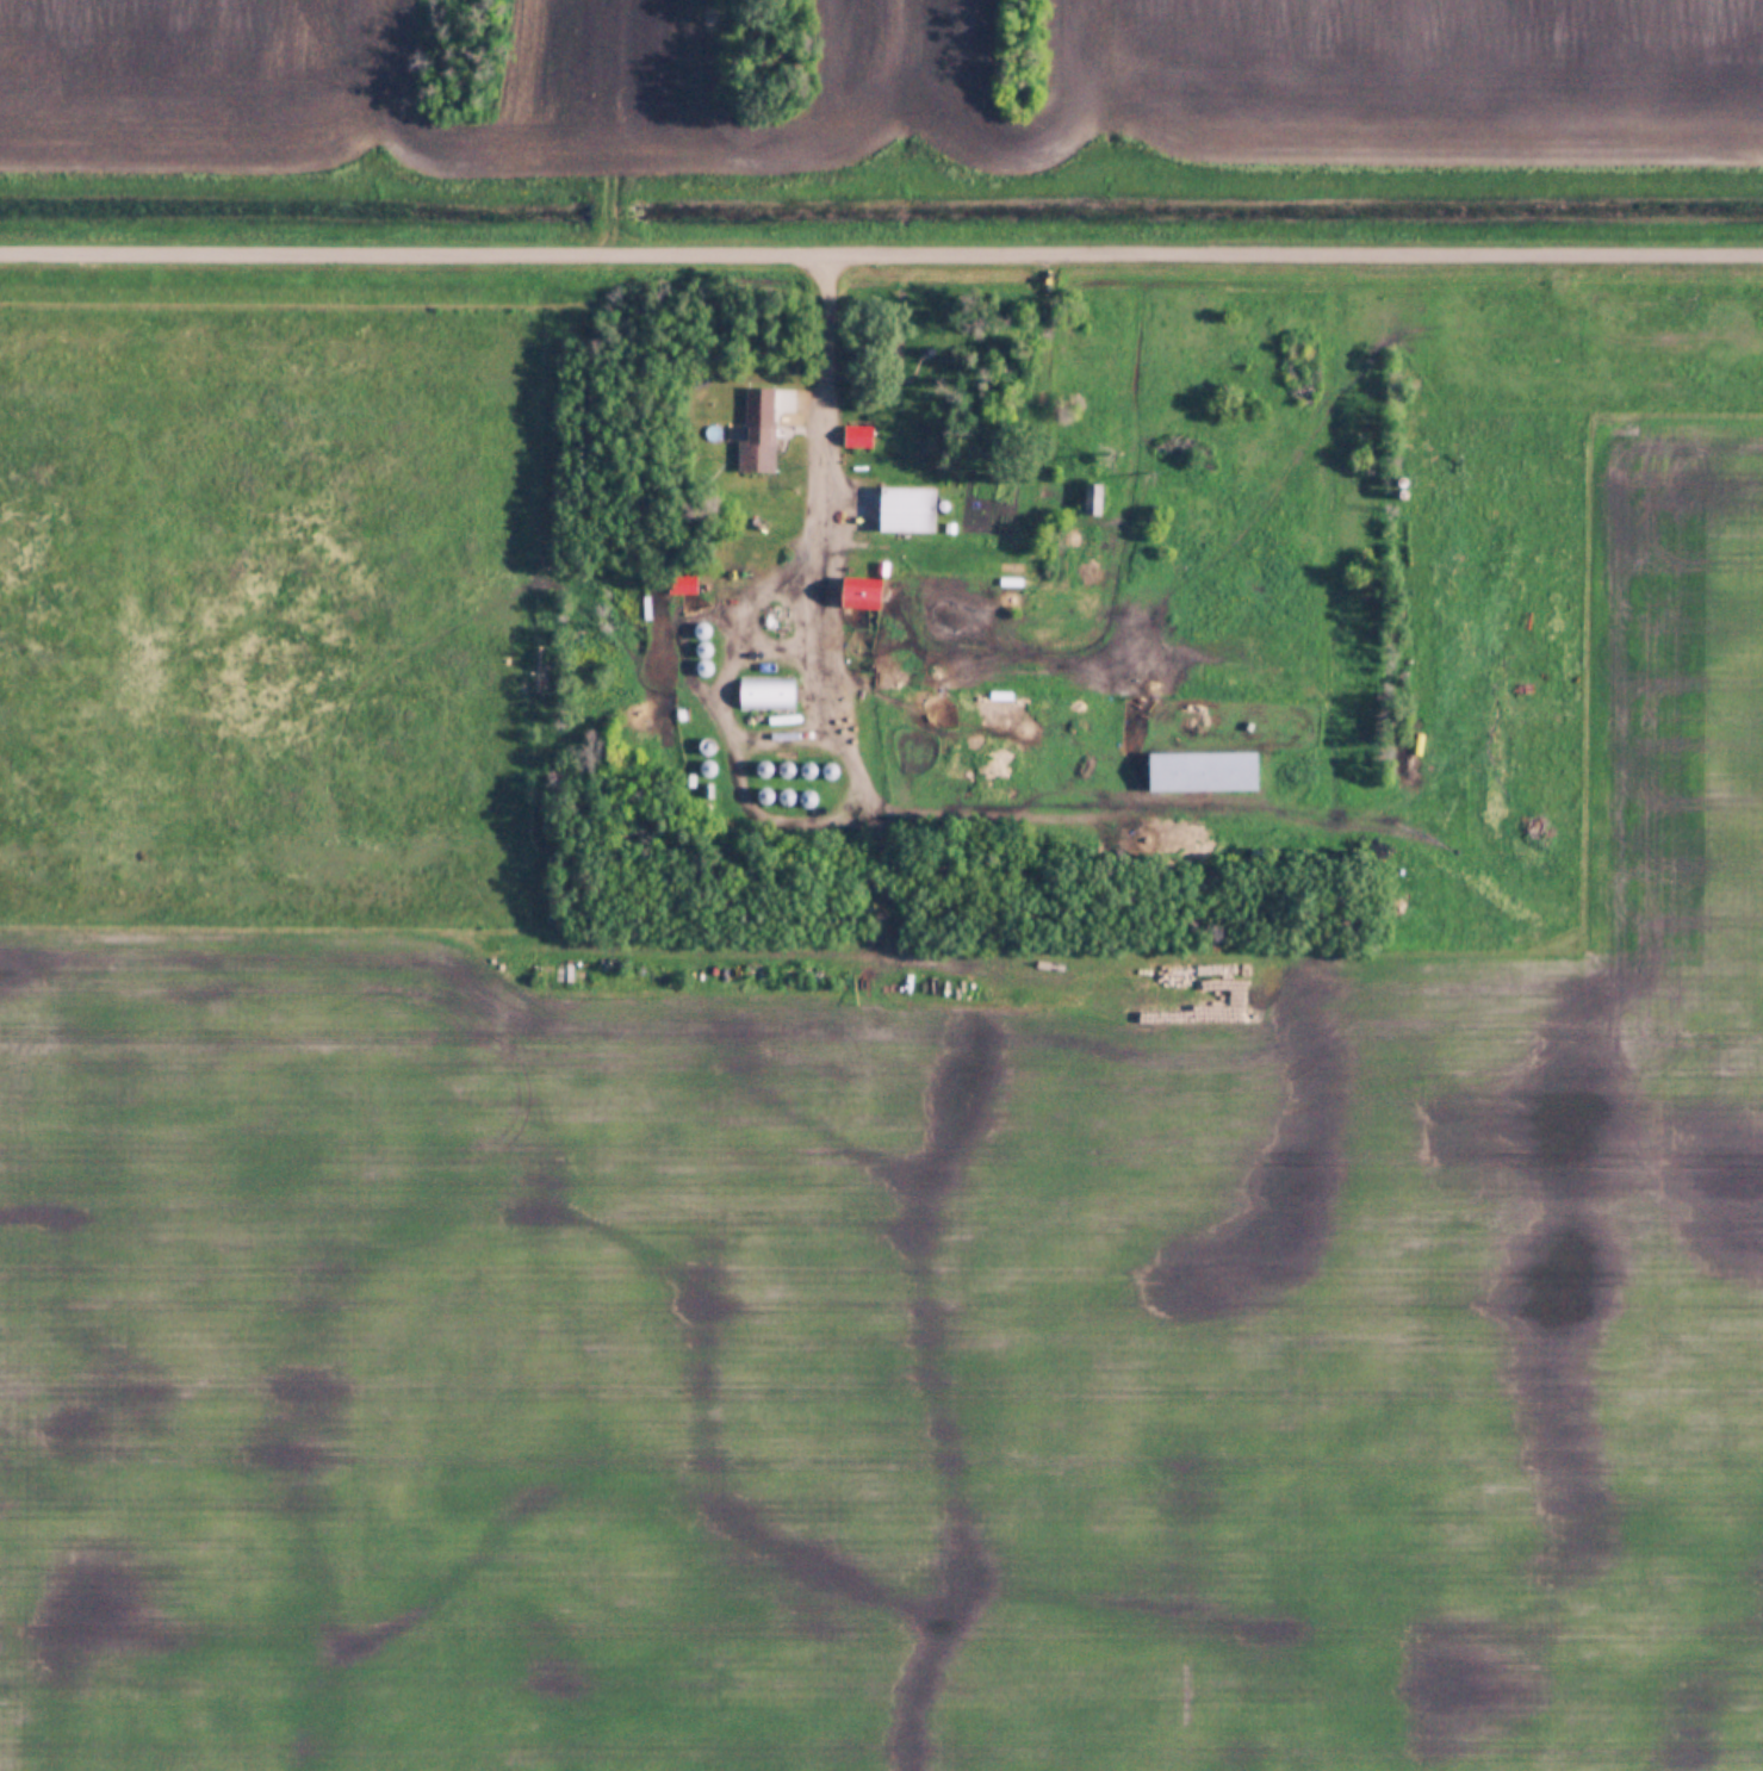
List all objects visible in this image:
road: (590, 129)
road: (881, 256)
road: (1042, 340)
road: (833, 377)
building: (861, 437)
building: (911, 509)
building: (768, 692)
building: (1208, 770)

